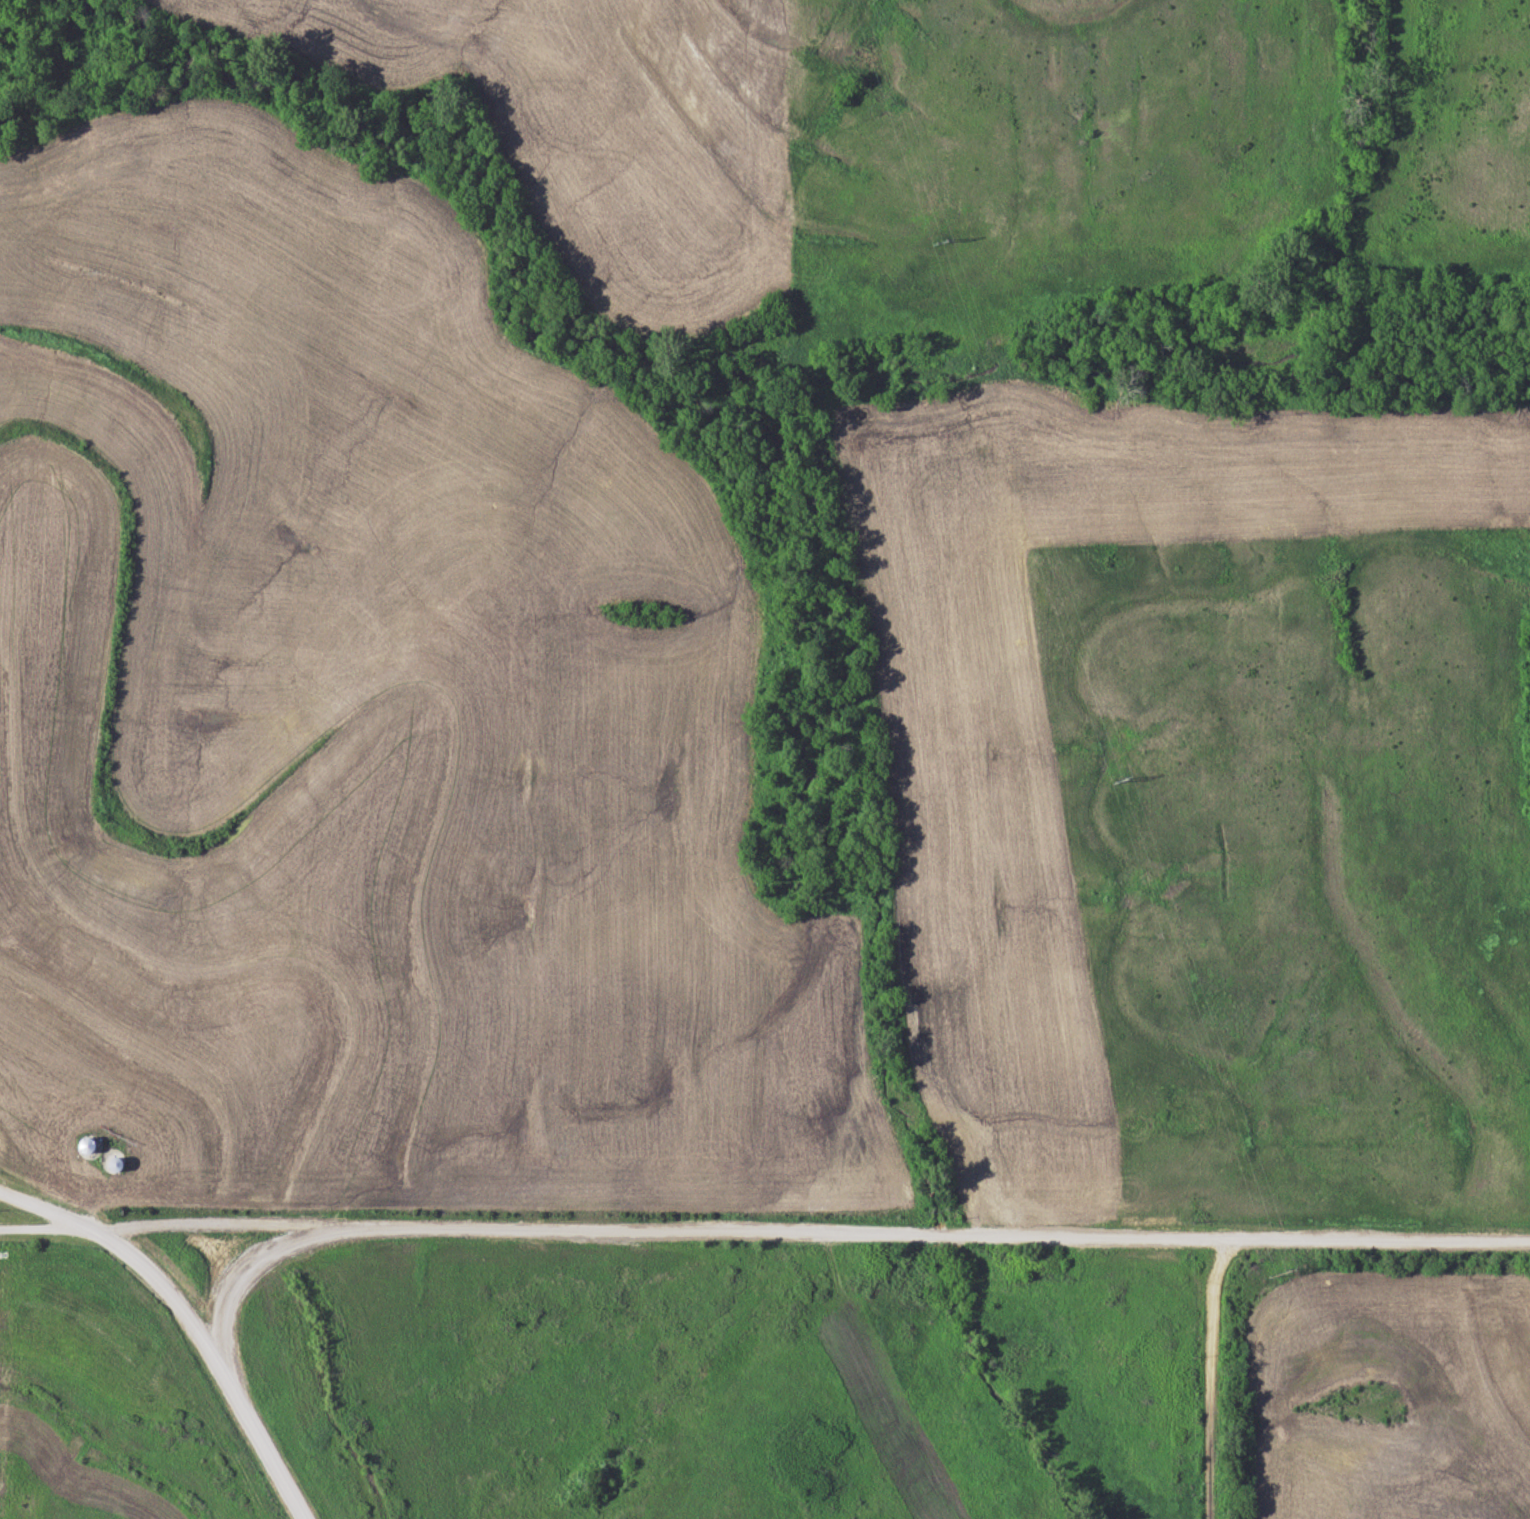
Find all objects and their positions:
road: (765, 1235)
road: (188, 1317)
road: (1221, 1379)

